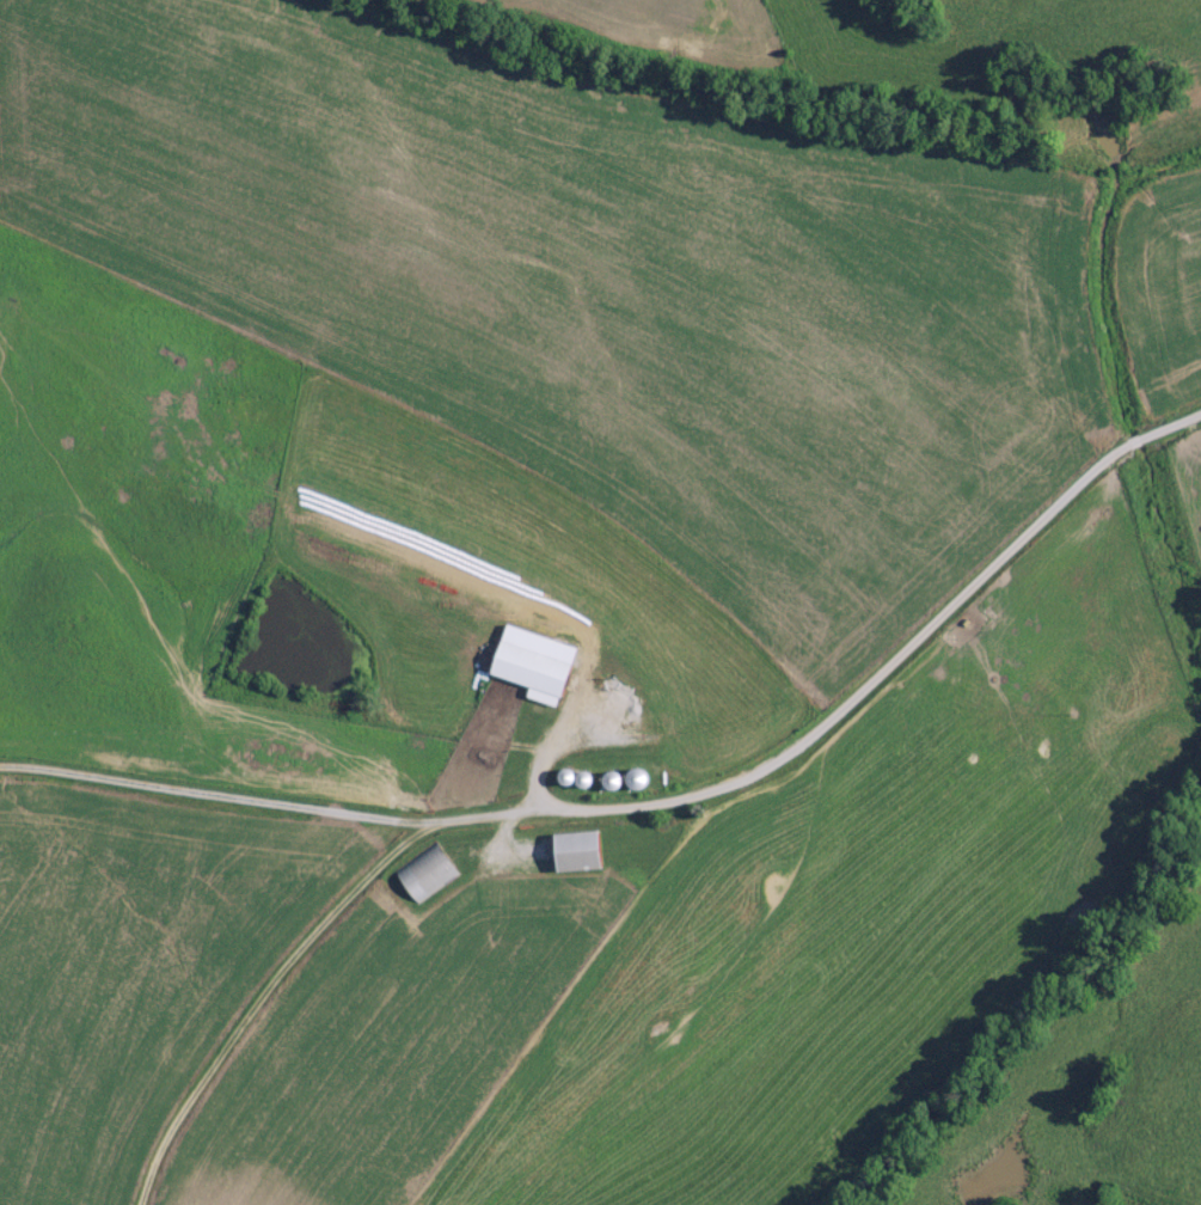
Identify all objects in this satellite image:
road: (912, 575)
building: (541, 663)
building: (586, 851)
building: (434, 870)

